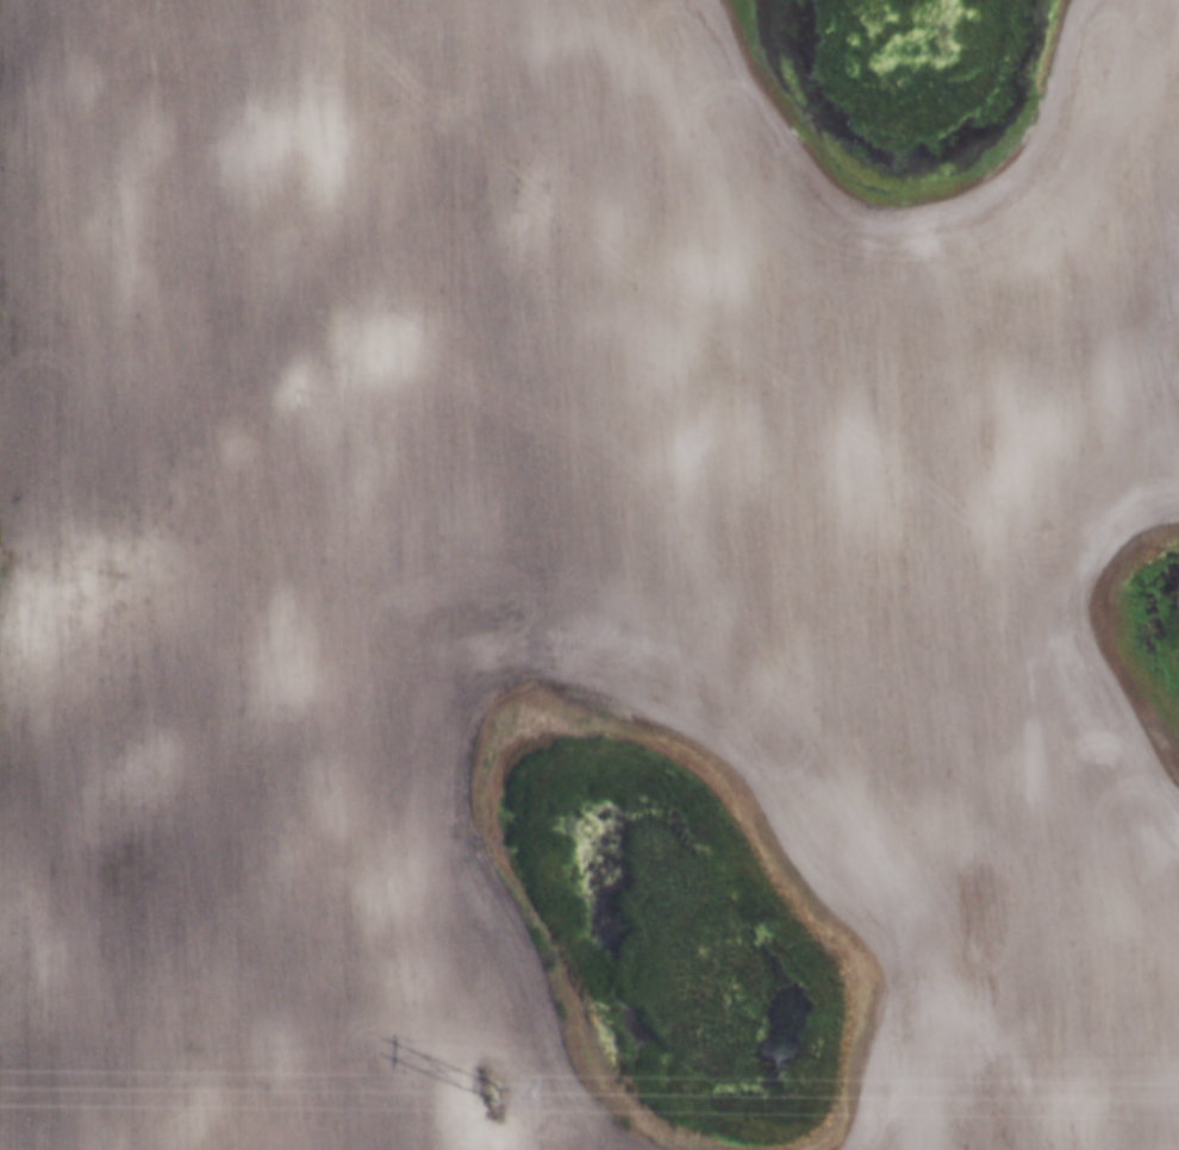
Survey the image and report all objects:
power tower: (488, 1092)

